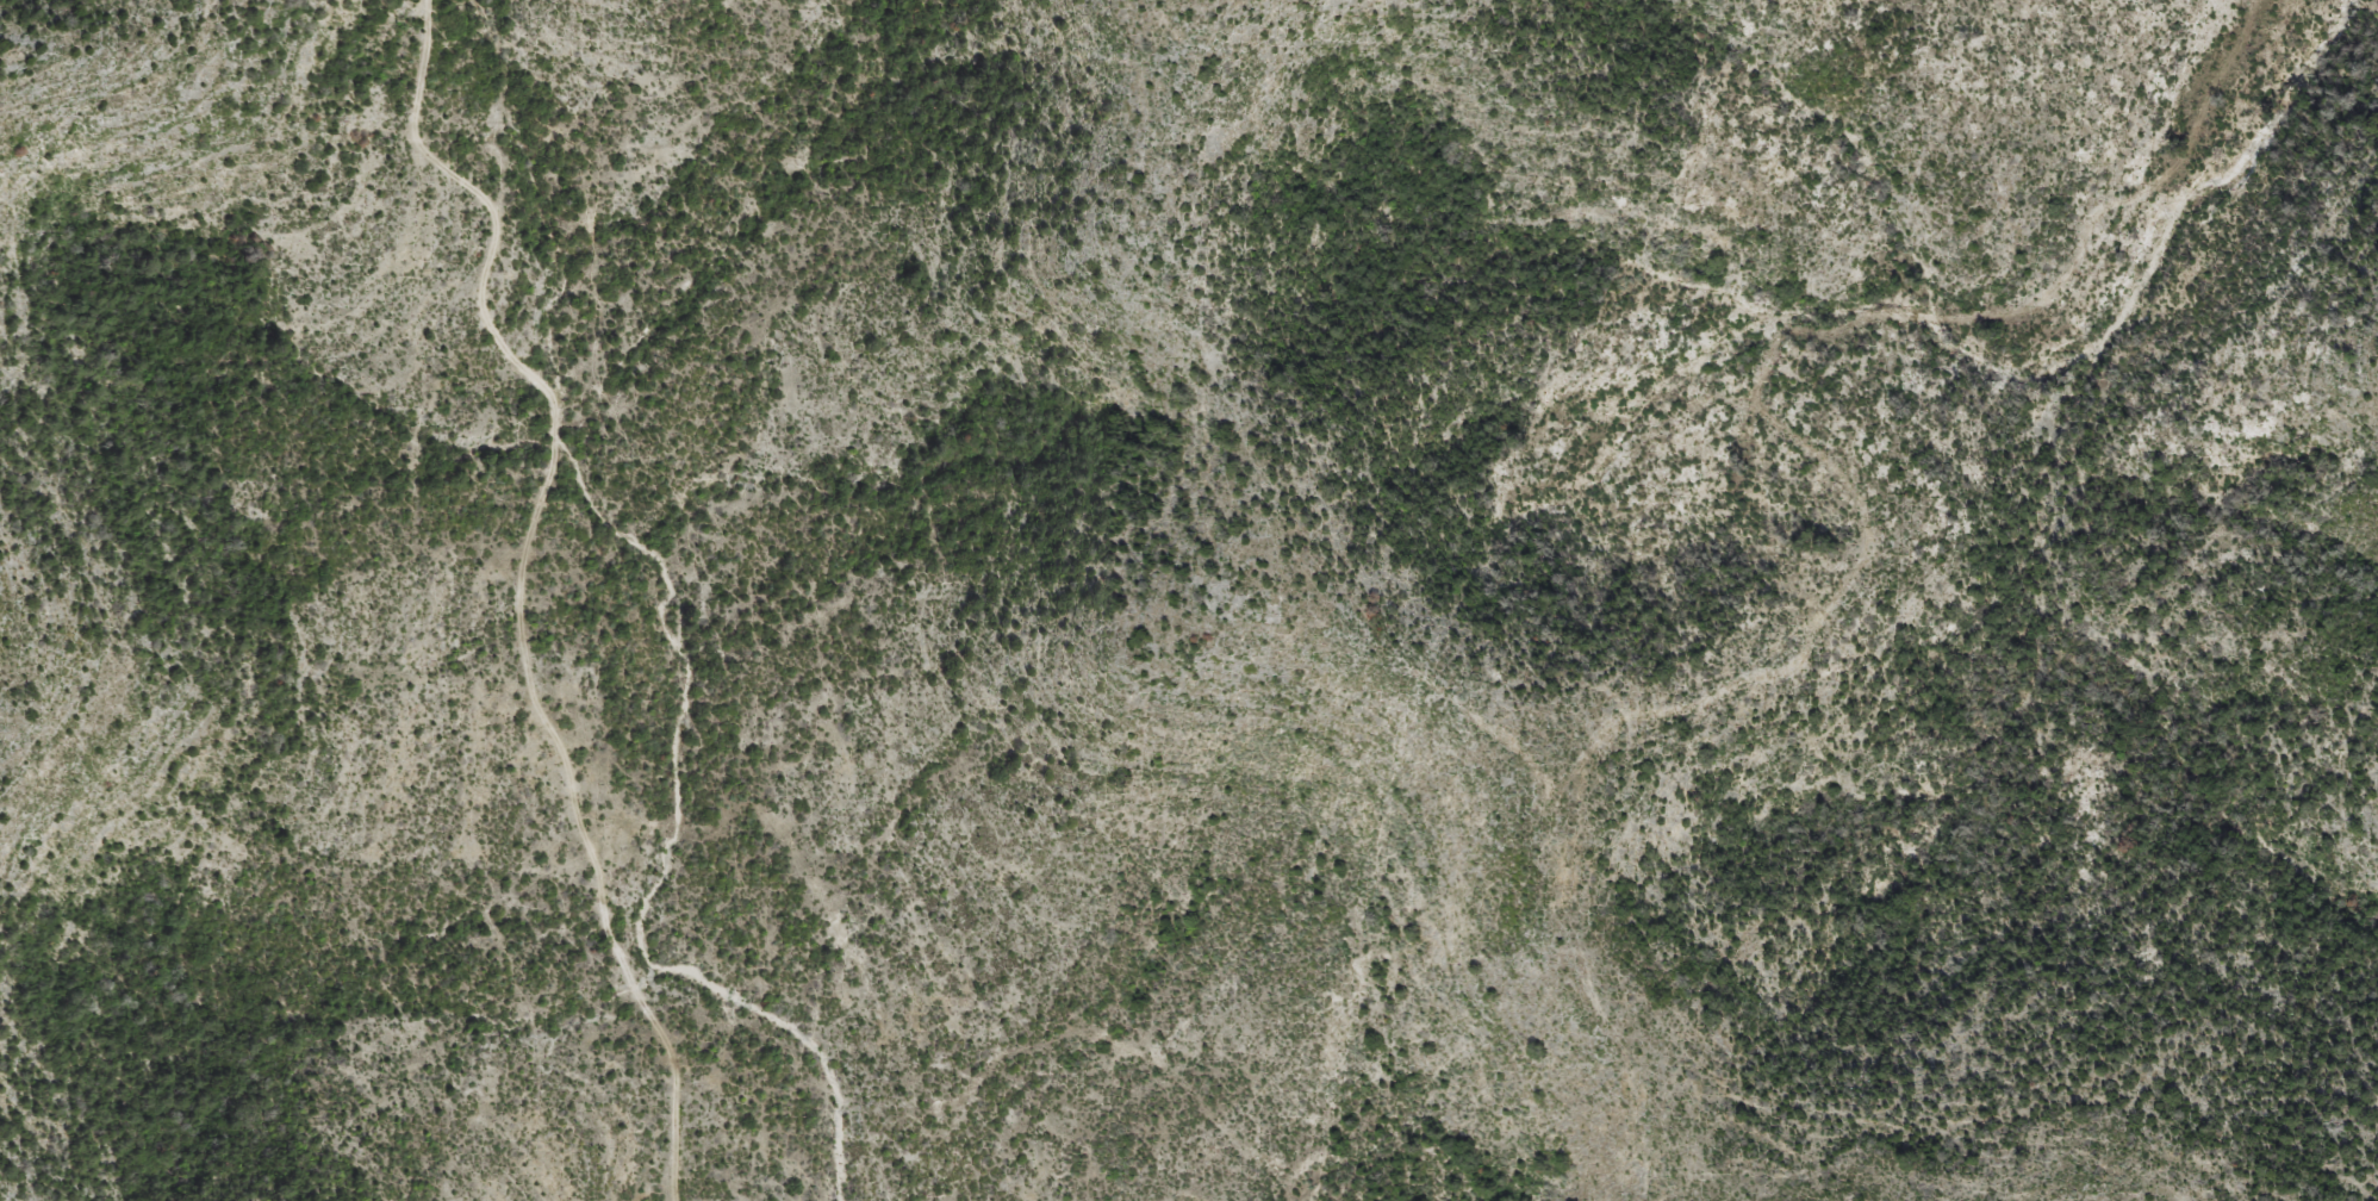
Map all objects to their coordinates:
road: (519, 598)

